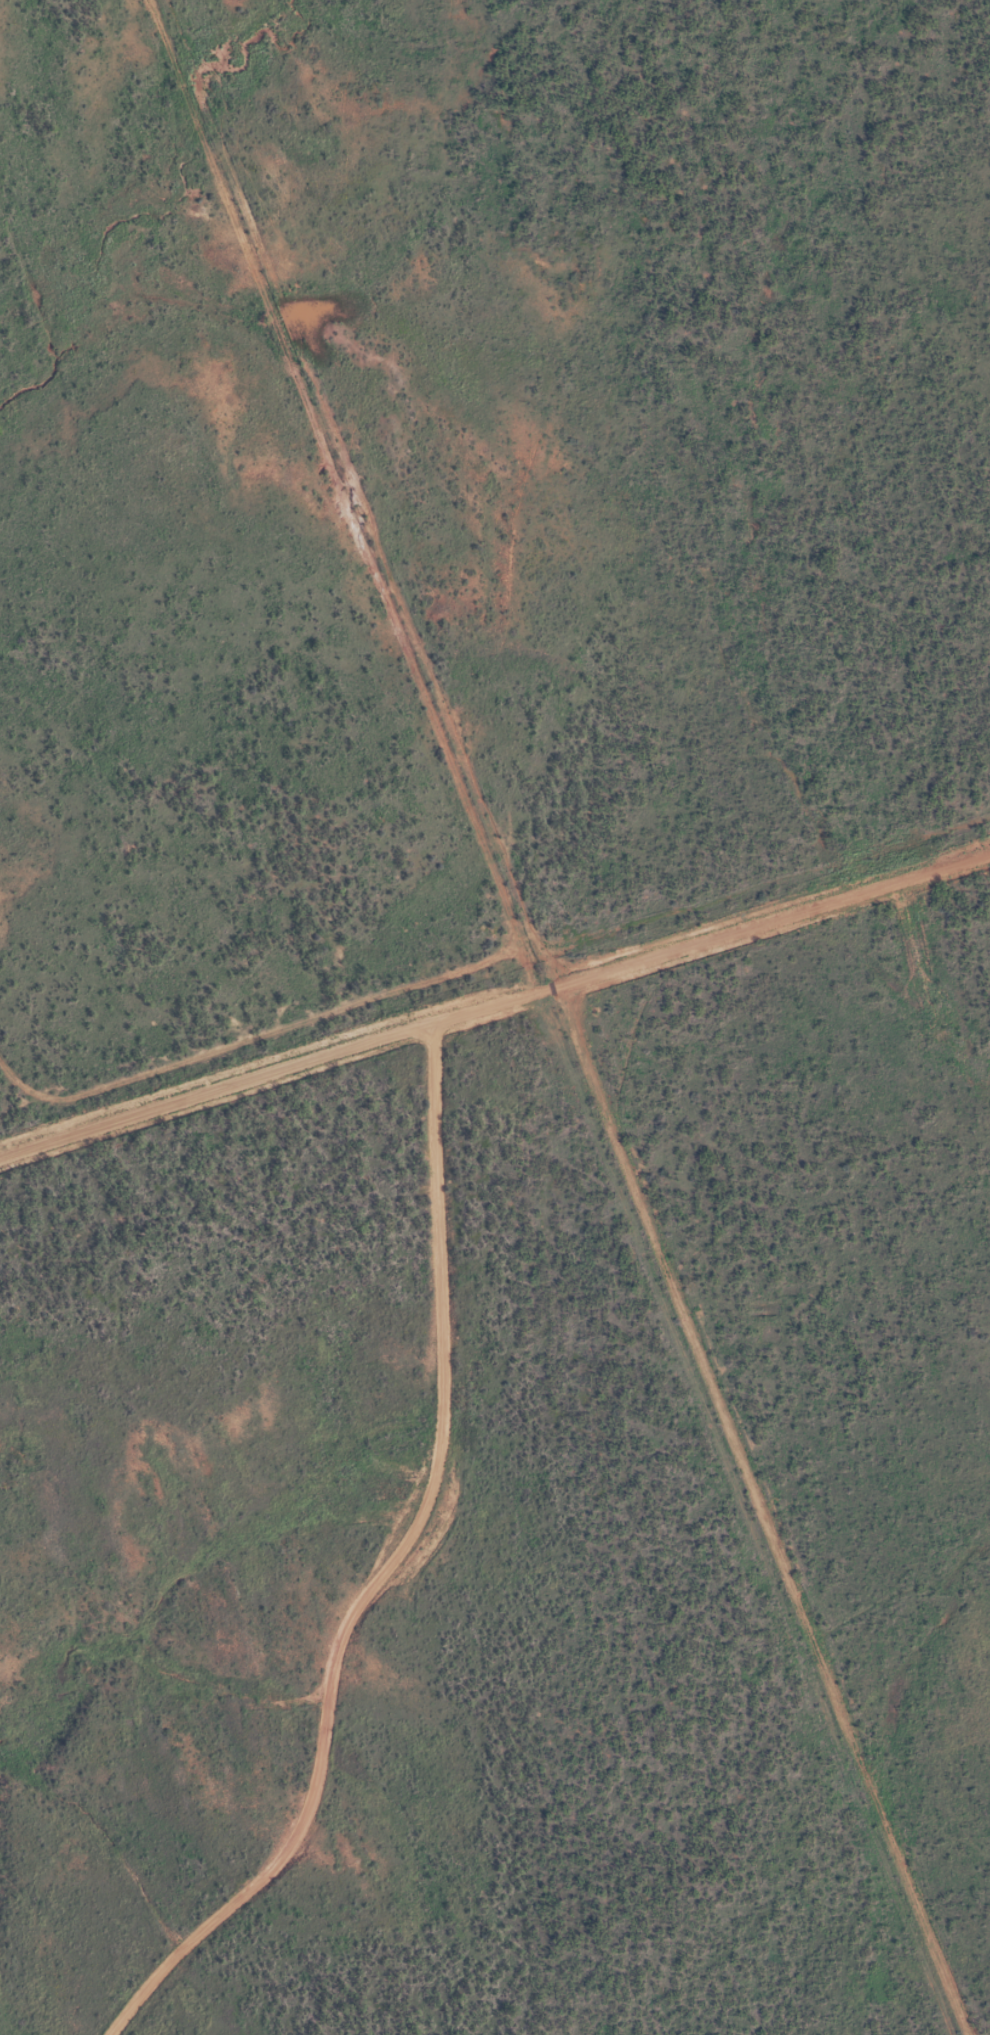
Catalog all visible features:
road: (492, 1036)
road: (382, 1577)

